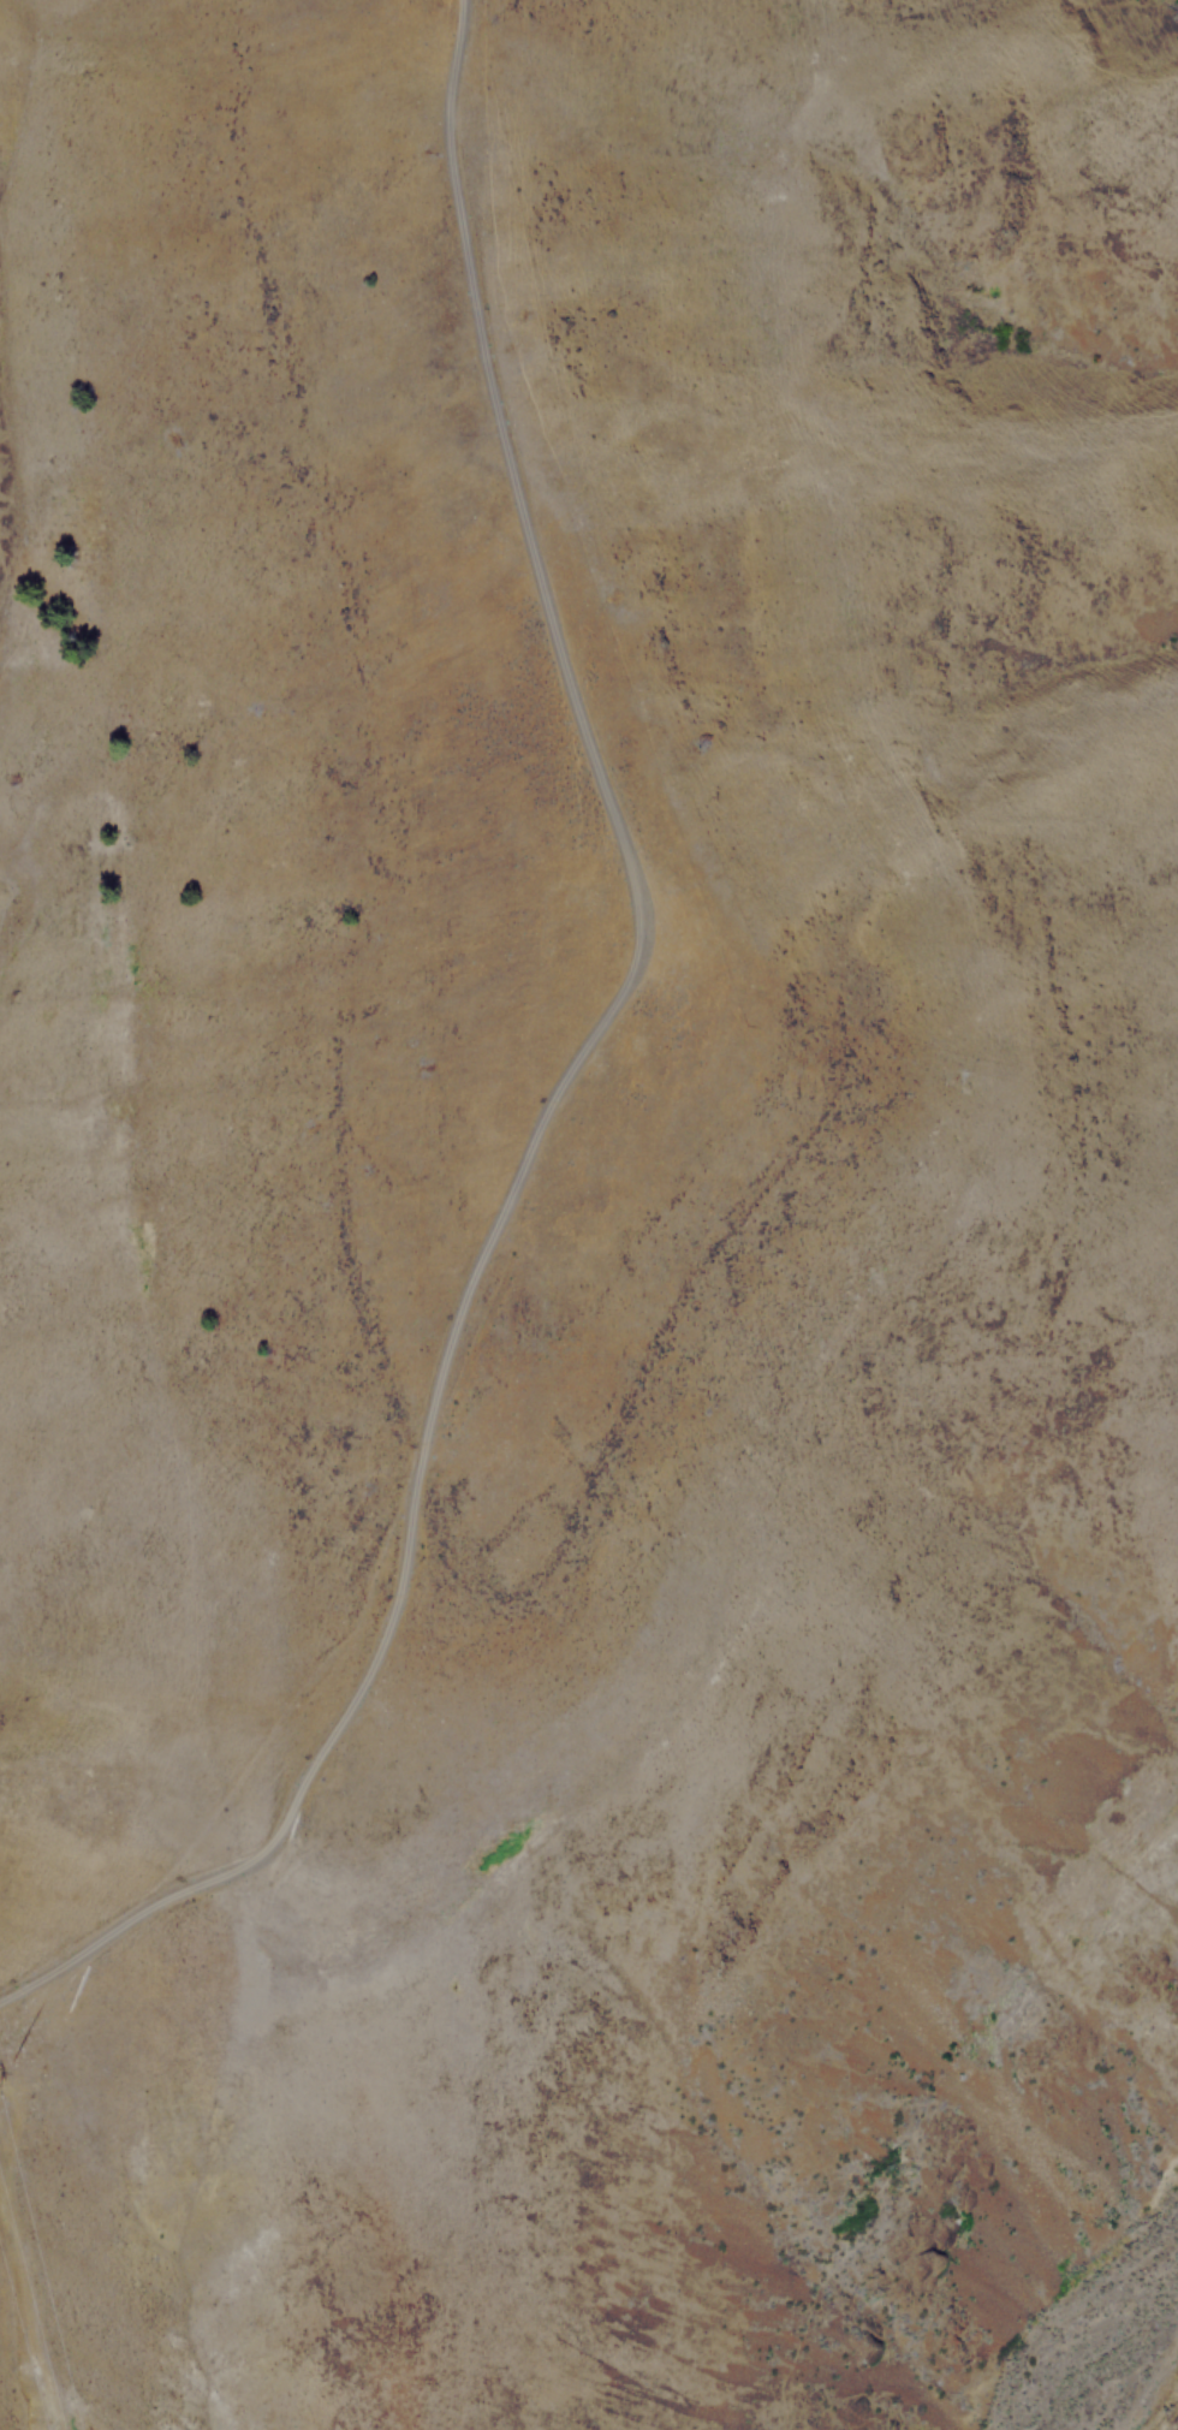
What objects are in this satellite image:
power tower: (2, 2073)

